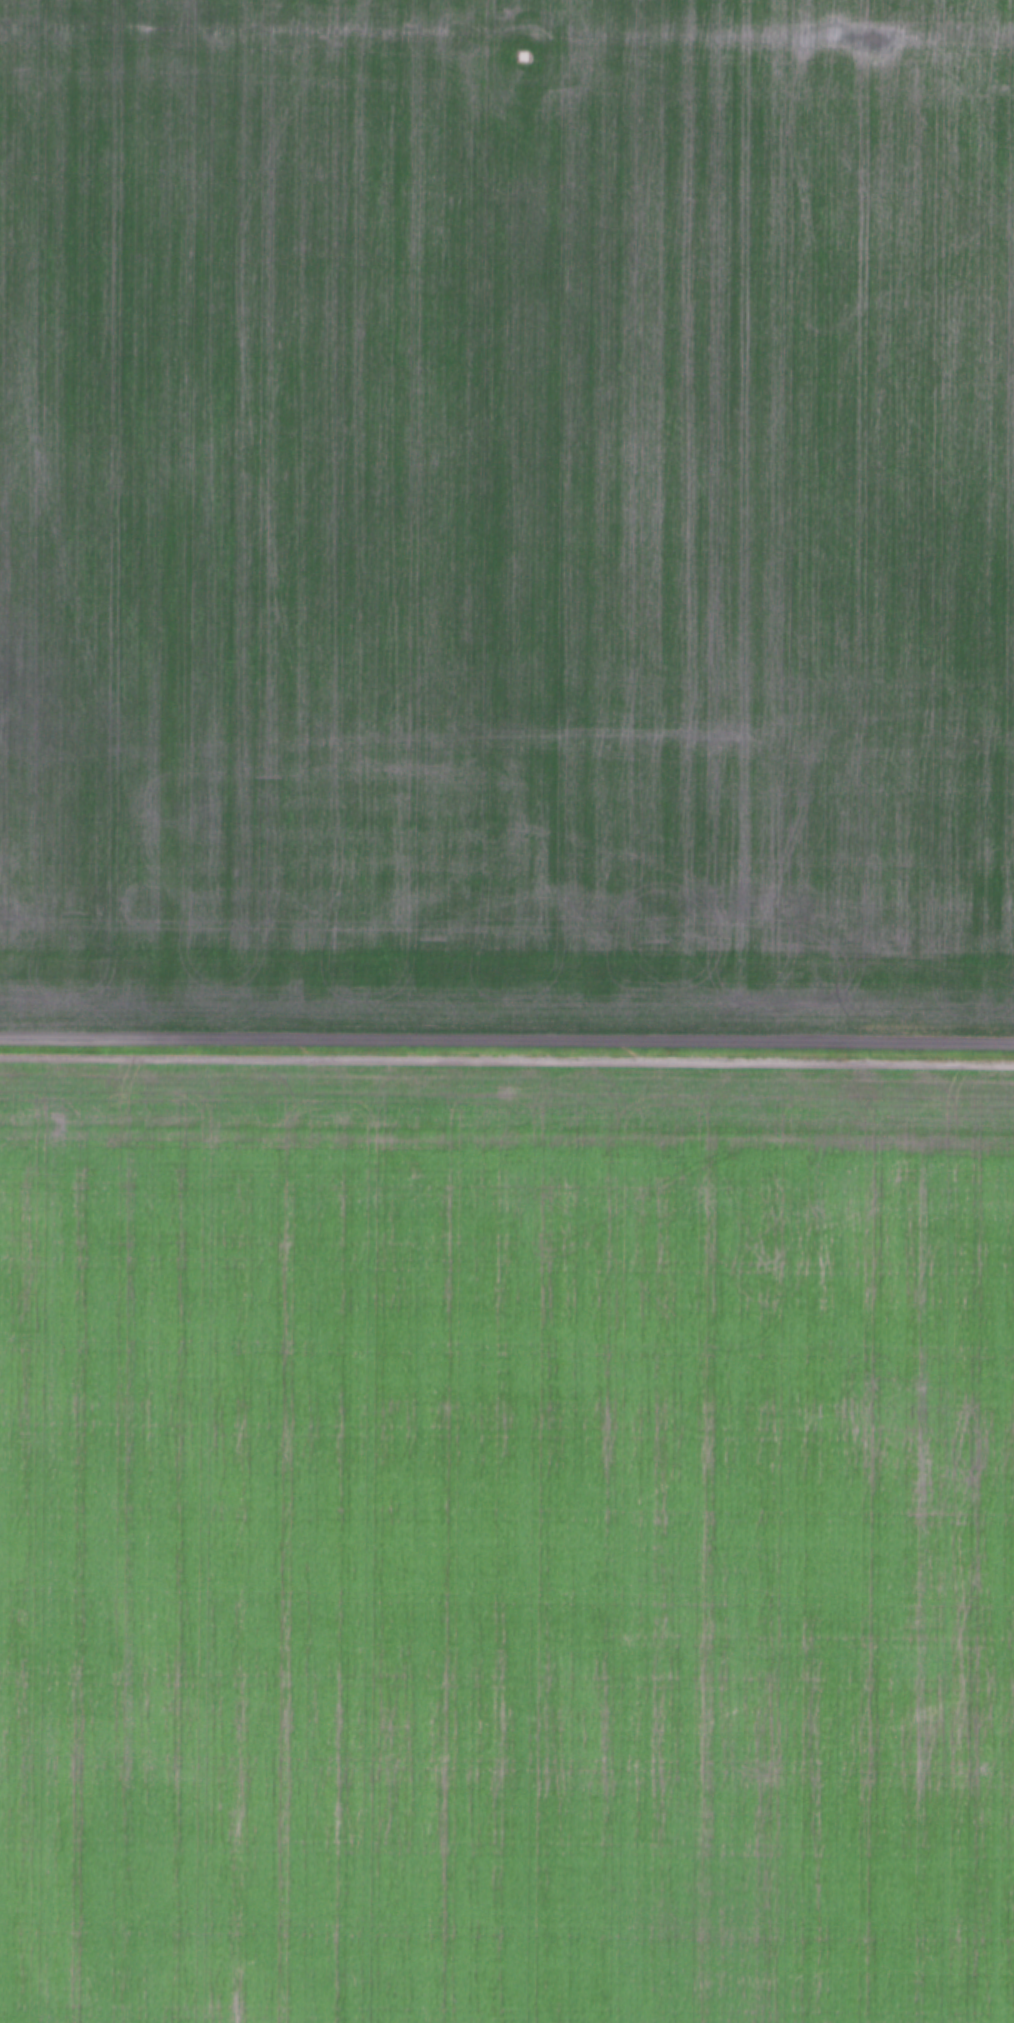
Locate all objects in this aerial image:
road: (507, 1038)

